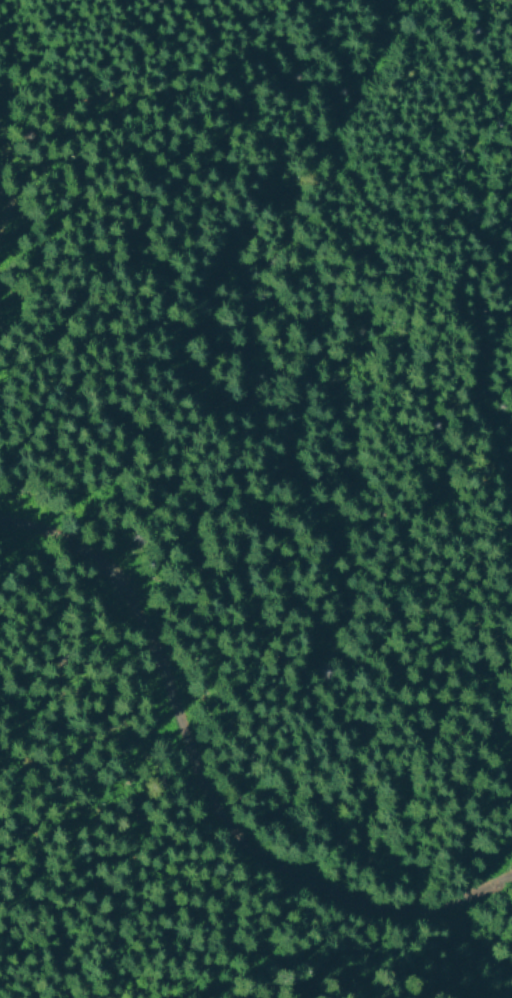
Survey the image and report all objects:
road: (17, 134)
road: (204, 787)

